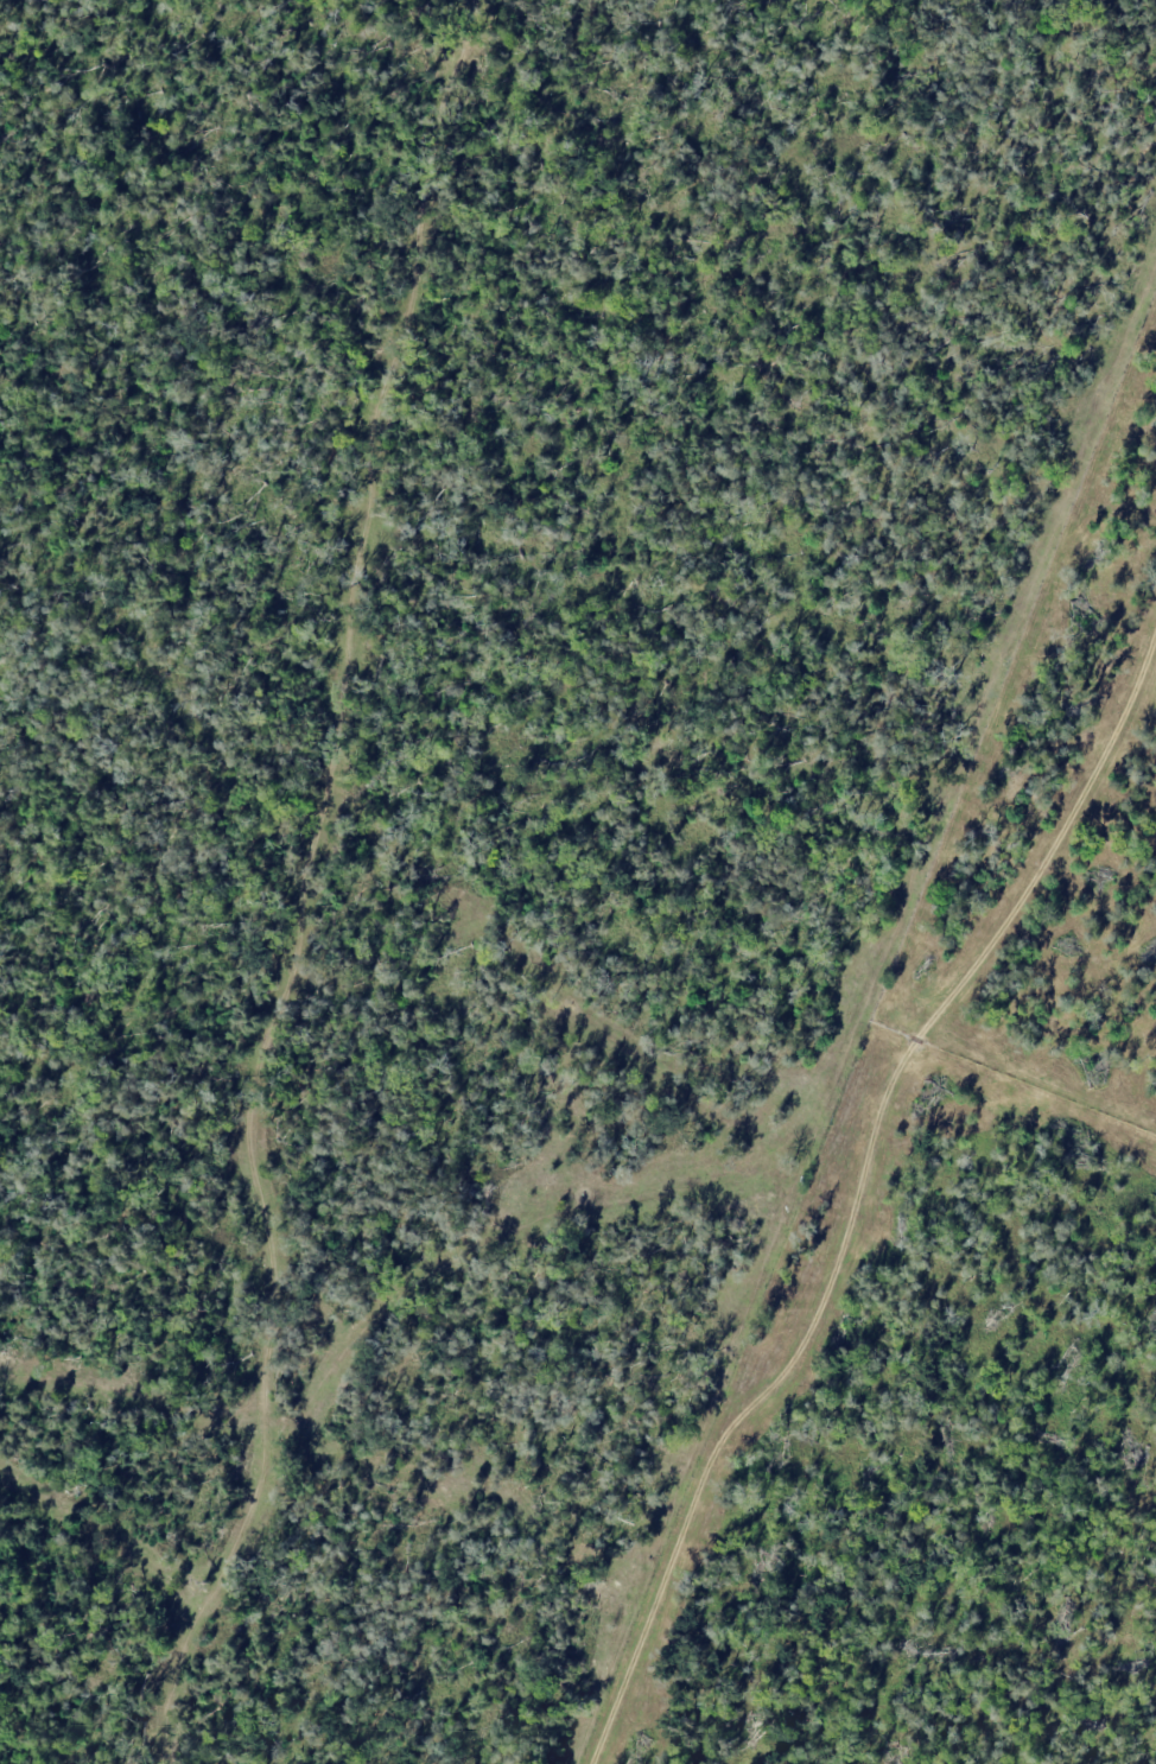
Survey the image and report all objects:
road: (1014, 875)

